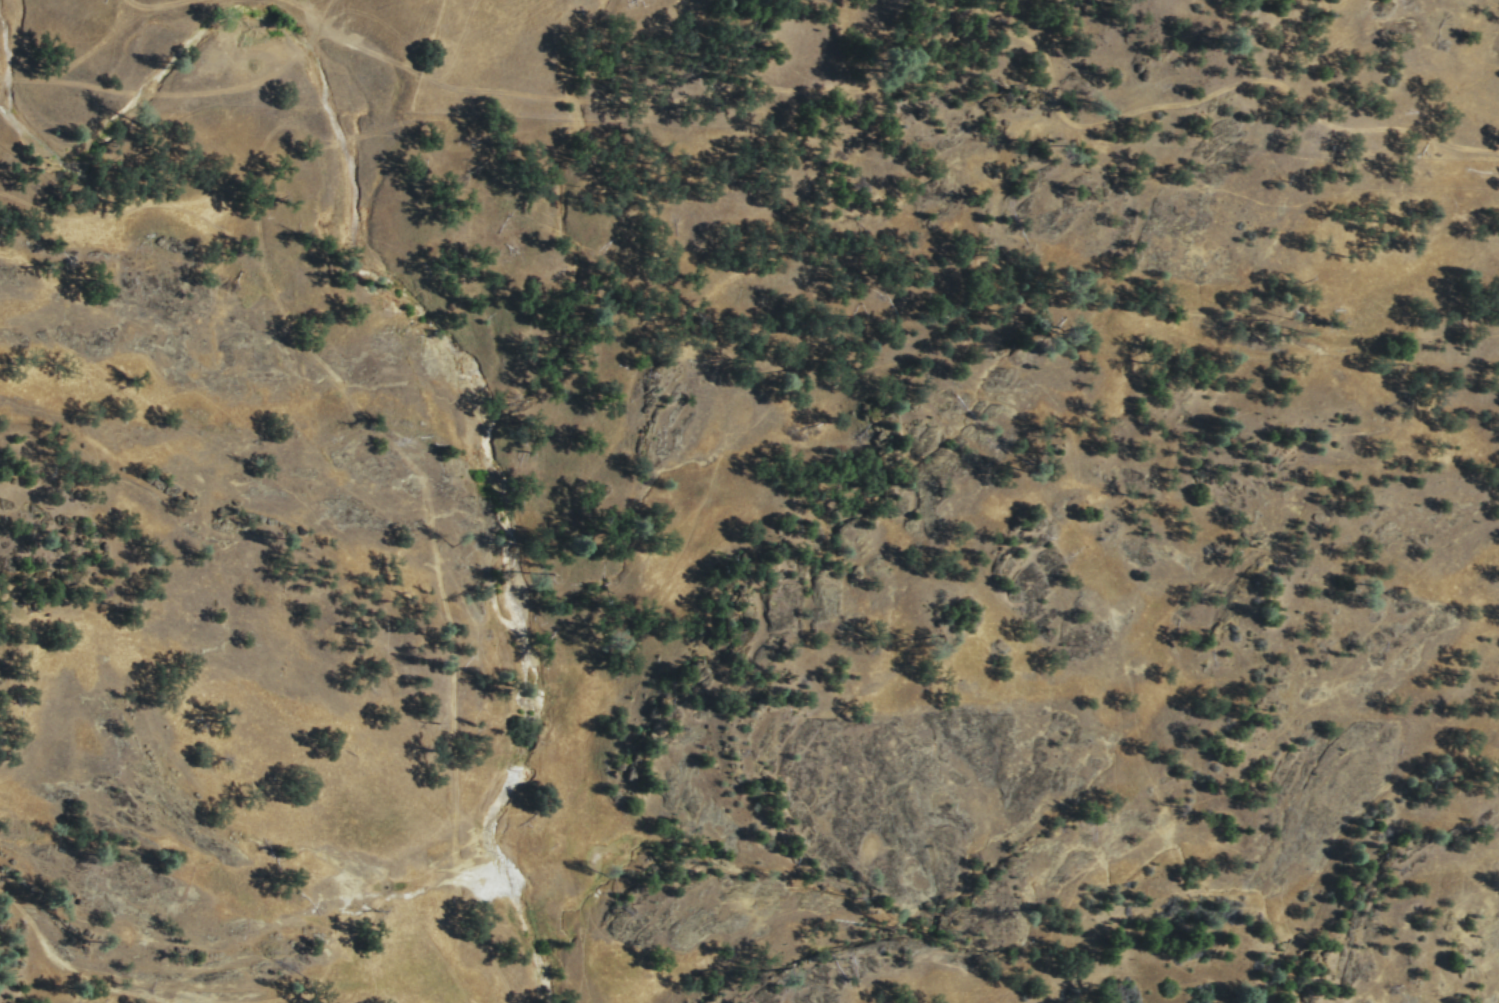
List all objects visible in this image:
road: (309, 5)
road: (125, 6)
road: (326, 11)
road: (106, 34)
road: (875, 85)
road: (172, 92)
road: (1424, 133)
road: (414, 471)

